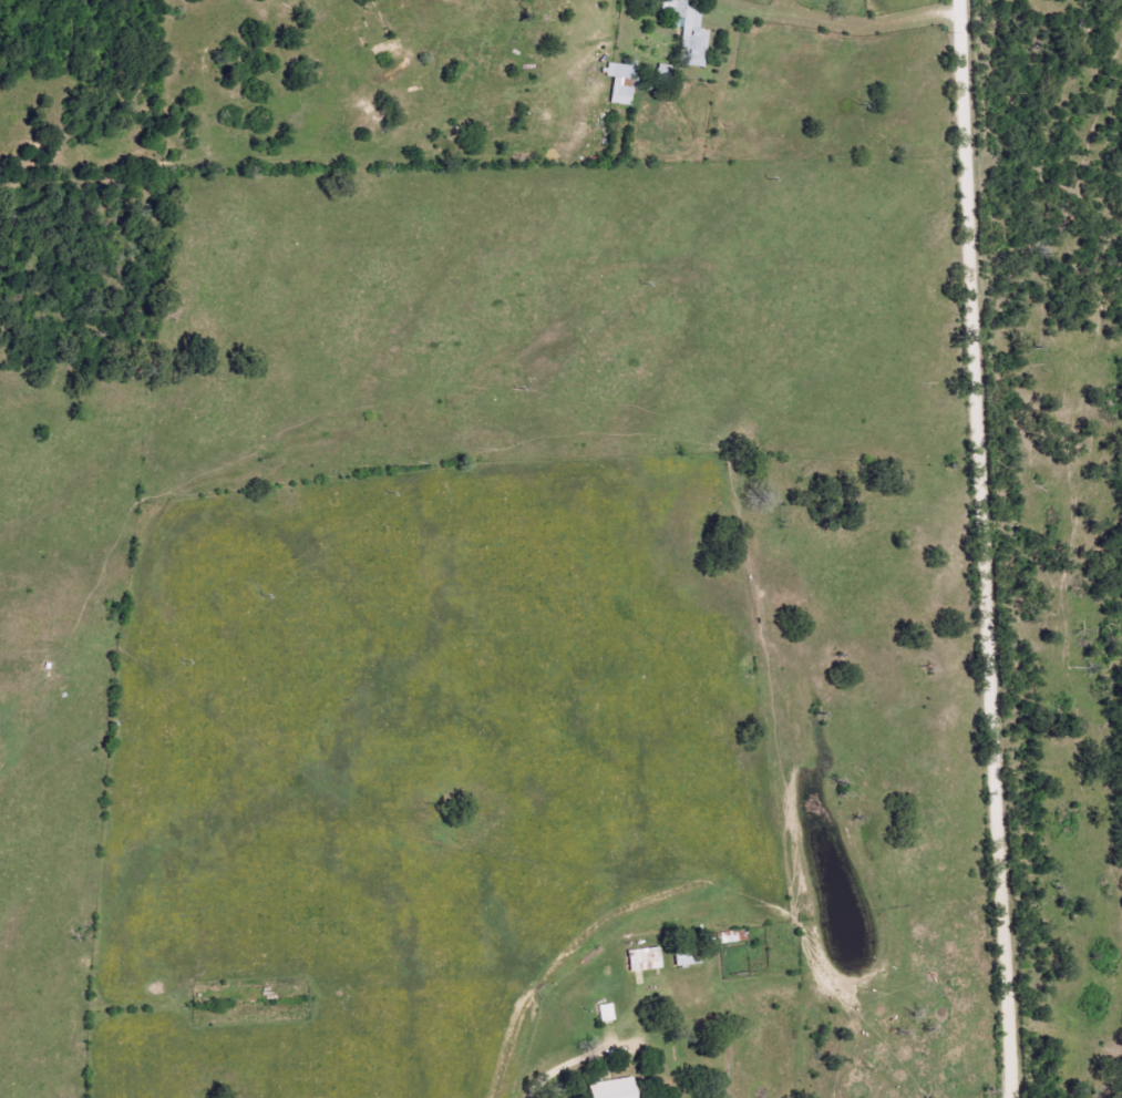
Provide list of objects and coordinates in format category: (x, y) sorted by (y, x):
building: (687, 32)
building: (626, 83)
road: (980, 548)
building: (644, 960)
building: (606, 1013)
building: (611, 1089)

